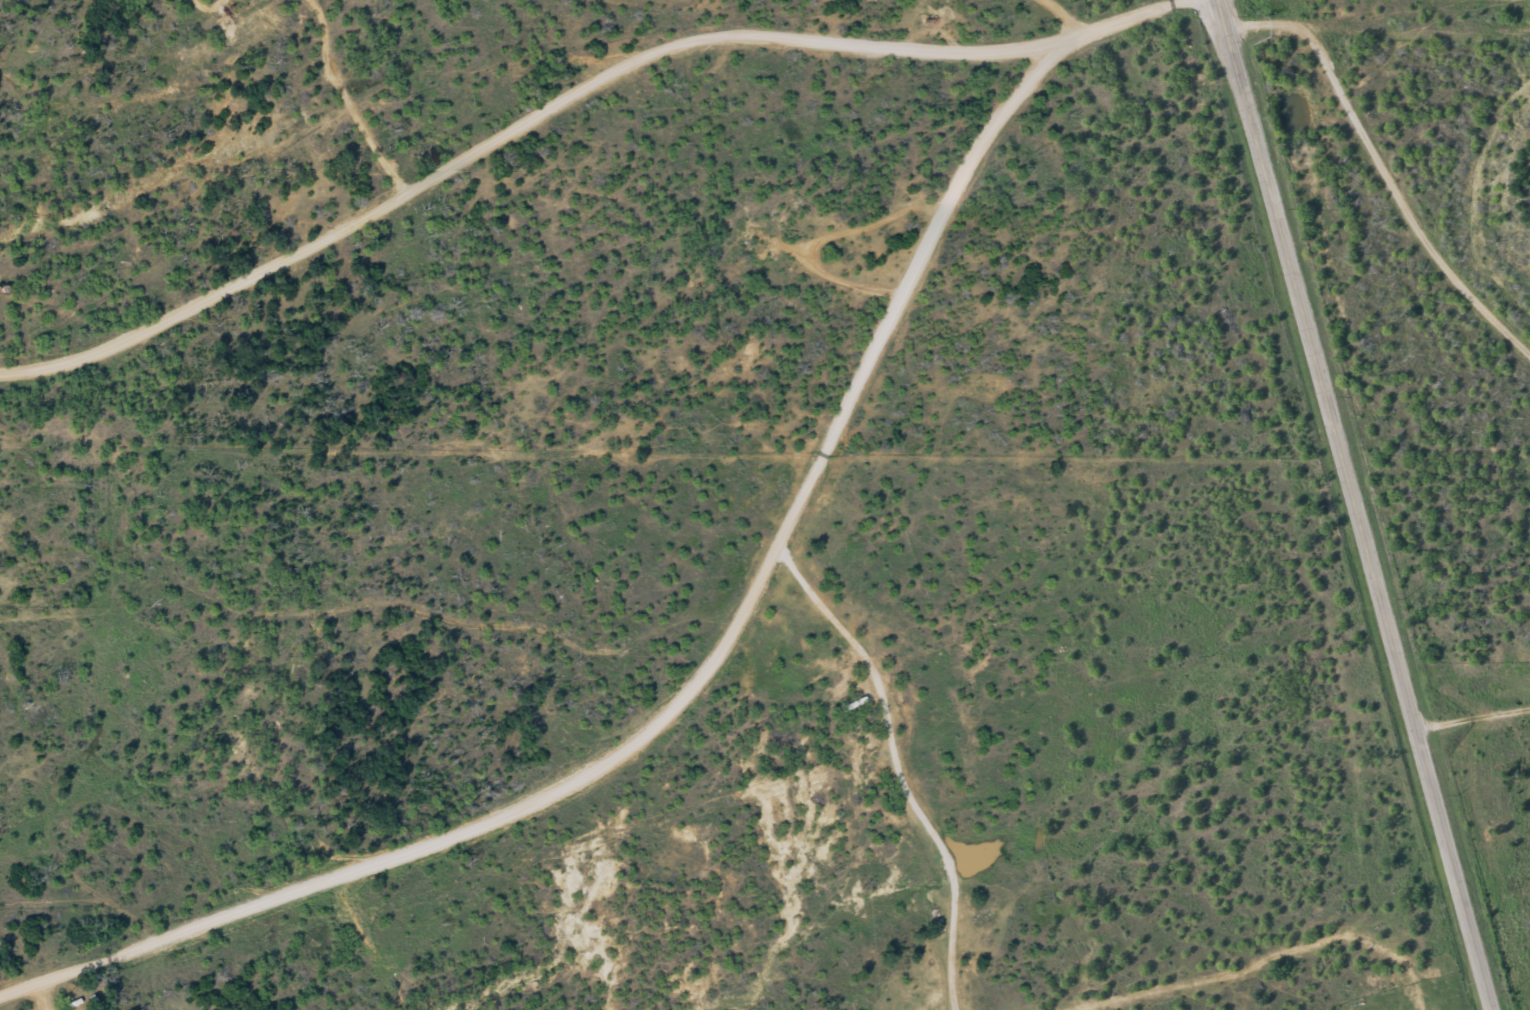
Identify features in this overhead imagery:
road: (1125, 11)
road: (1115, 23)
road: (1422, 48)
road: (526, 128)
road: (1406, 175)
road: (1506, 181)
road: (1371, 505)
road: (694, 685)
road: (1482, 732)

